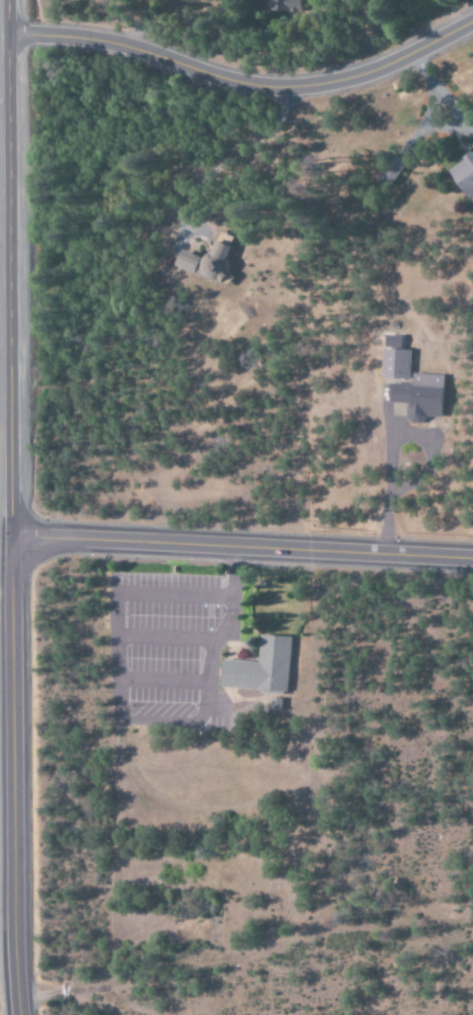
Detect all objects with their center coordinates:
building: (282, 6)
road: (244, 82)
building: (390, 171)
building: (462, 174)
building: (205, 259)
building: (392, 359)
building: (416, 397)
road: (13, 507)
road: (243, 549)
road: (229, 630)
road: (168, 641)
road: (234, 643)
road: (119, 650)
building: (259, 670)
road: (231, 676)
road: (164, 683)
road: (219, 700)

